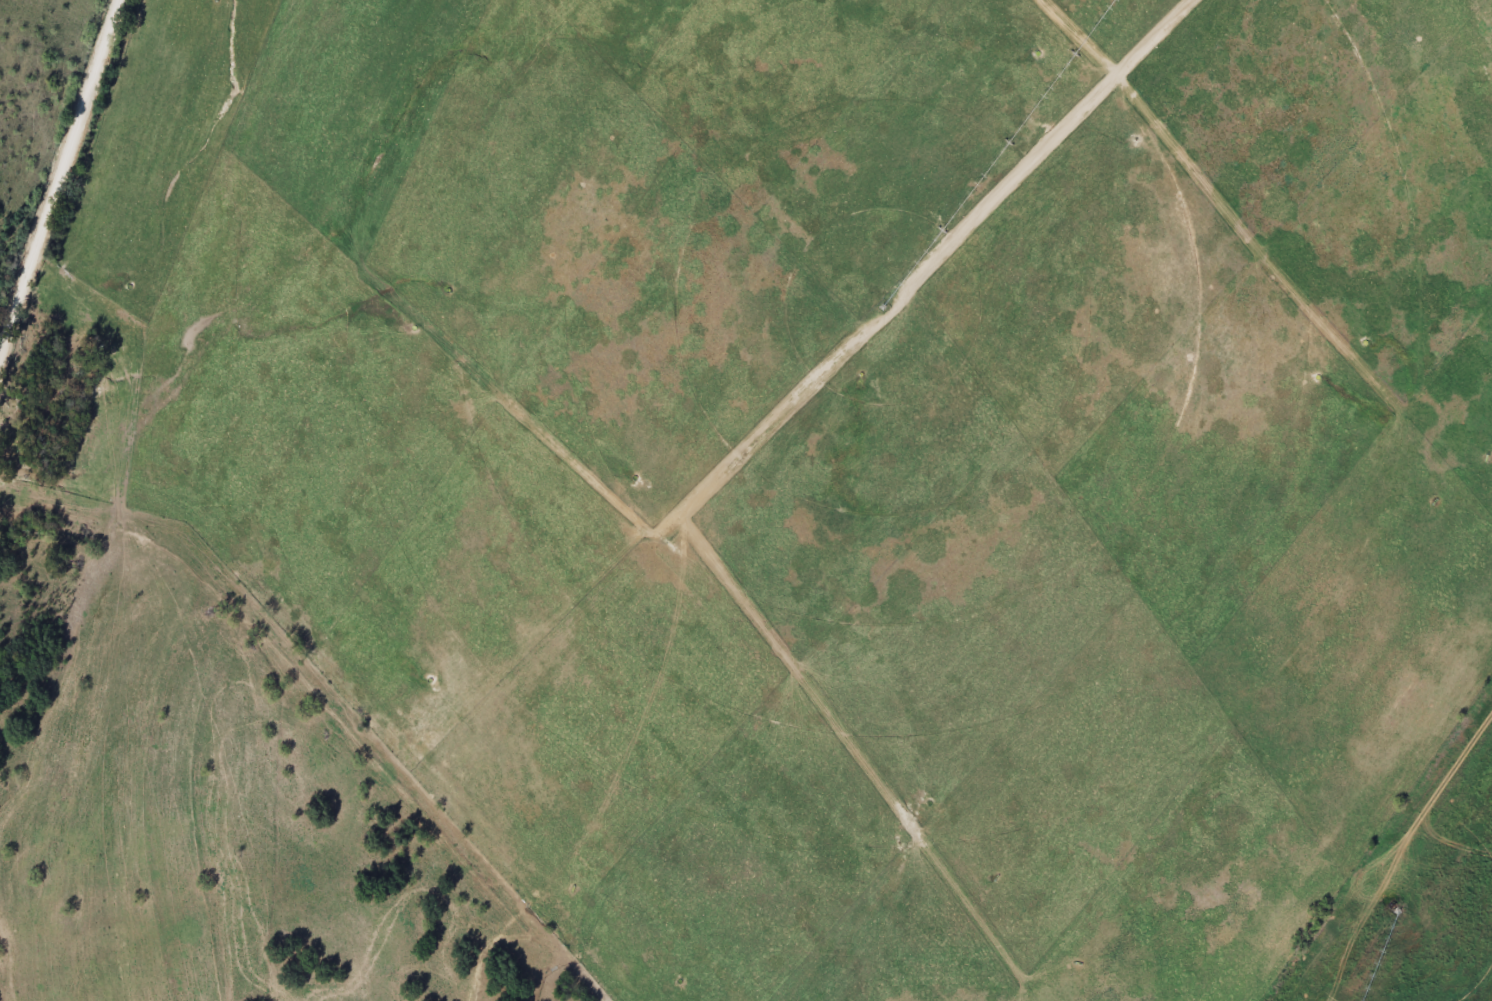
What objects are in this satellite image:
road: (59, 174)
road: (236, 699)
road: (1449, 777)

